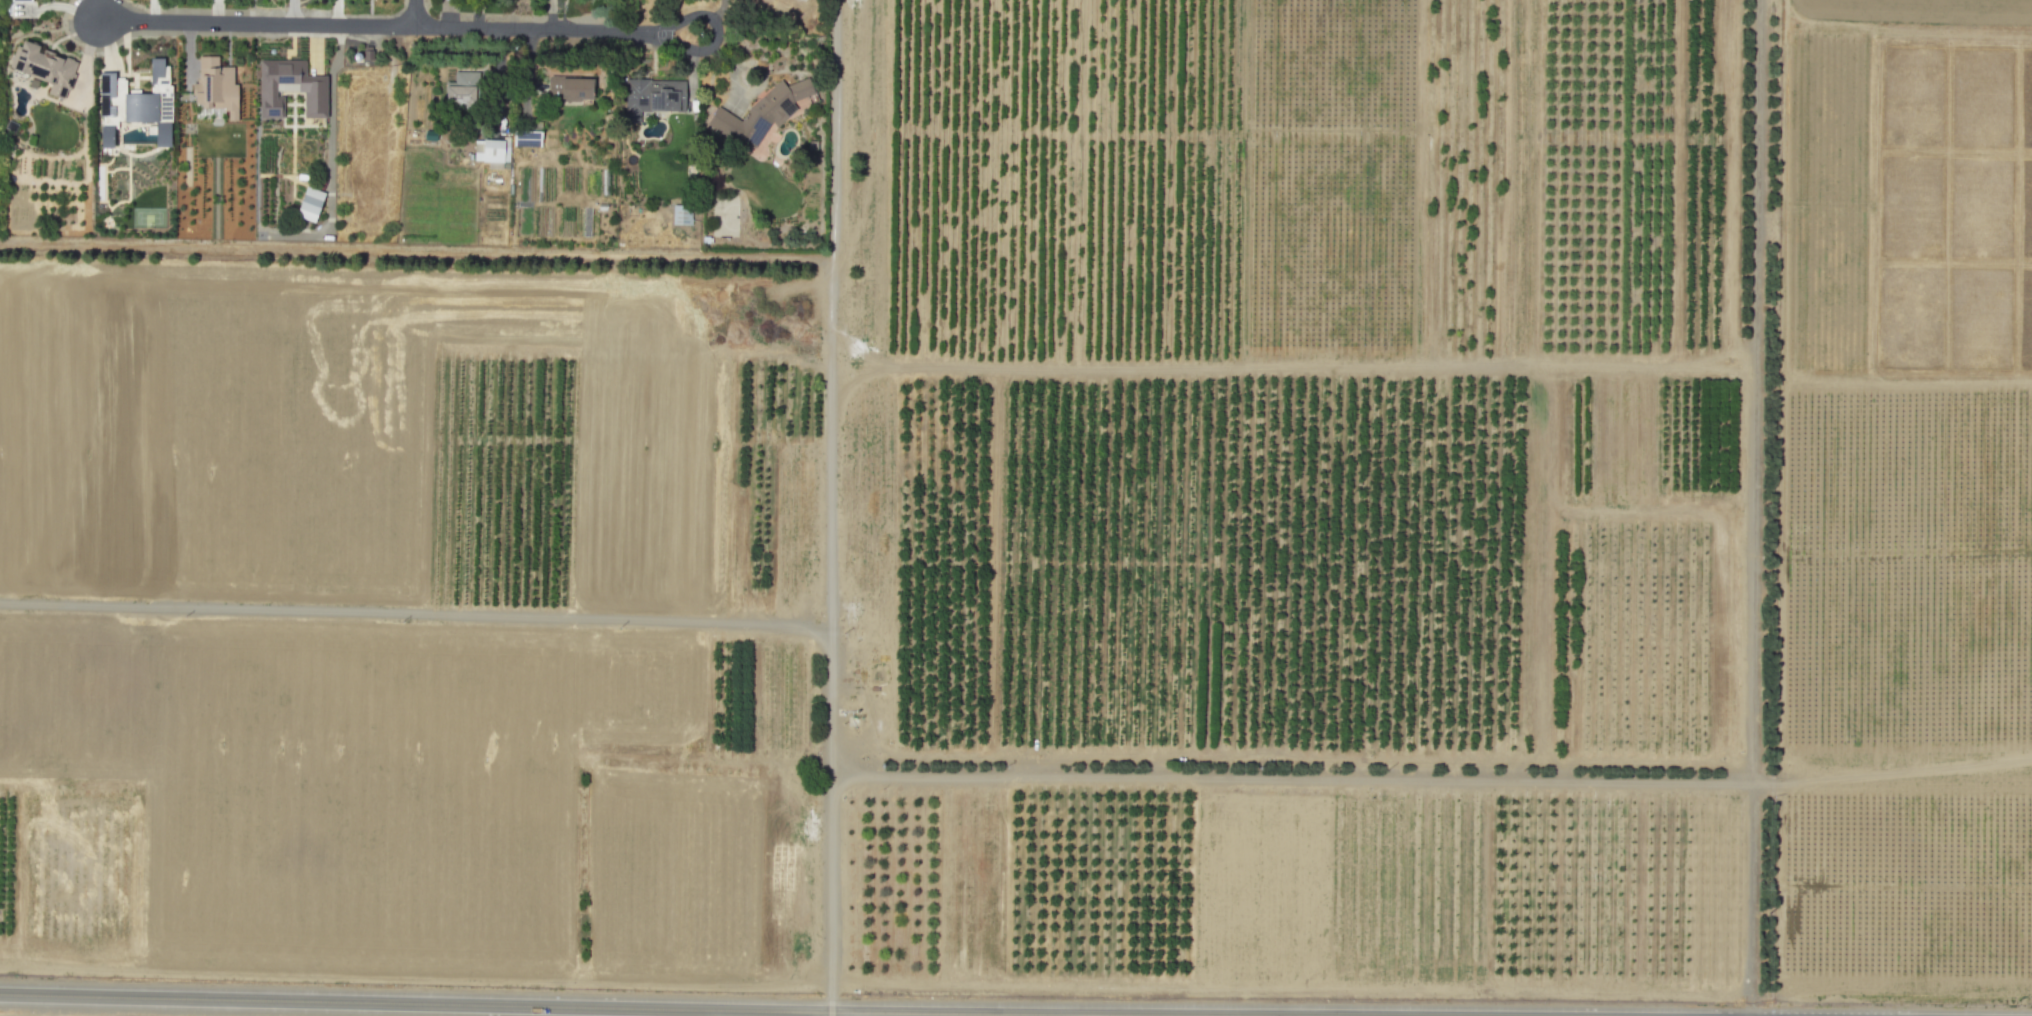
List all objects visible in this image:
building: (22, 0)
road: (415, 13)
road: (256, 23)
road: (534, 29)
road: (717, 31)
building: (45, 66)
building: (215, 85)
building: (290, 87)
building: (462, 88)
building: (576, 90)
building: (652, 96)
building: (137, 103)
road: (331, 103)
building: (761, 111)
building: (525, 138)
building: (491, 151)
building: (310, 203)
building: (681, 214)
park: (725, 215)
road: (537, 331)
road: (1281, 369)
road: (1906, 383)
road: (1752, 507)
road: (1781, 508)
road: (415, 615)
road: (829, 678)
road: (1306, 780)
road: (661, 1004)
road: (830, 1012)

